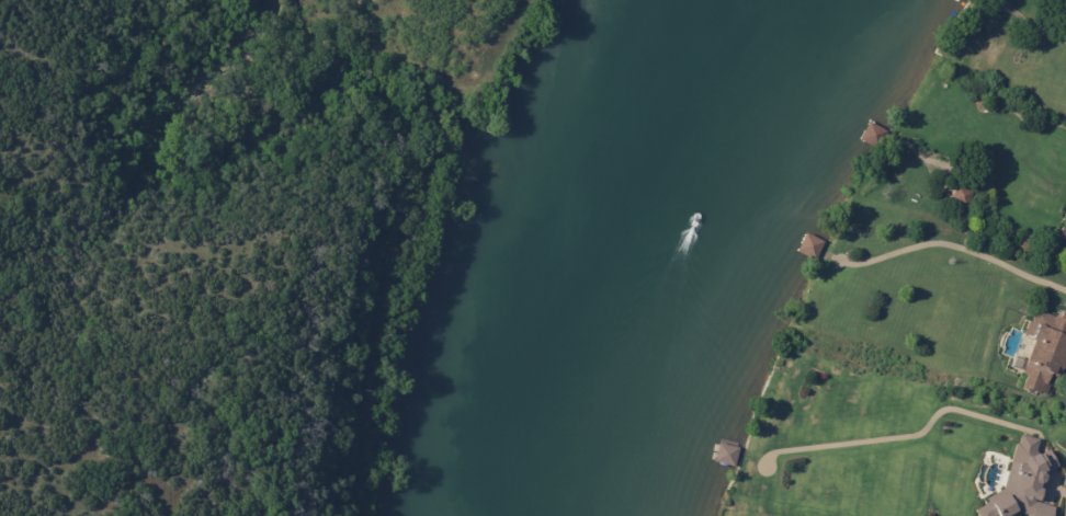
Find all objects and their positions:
building: (873, 135)
building: (963, 198)
building: (1063, 231)
building: (809, 246)
river: (682, 257)
building: (1045, 355)
building: (727, 455)
building: (1022, 482)

